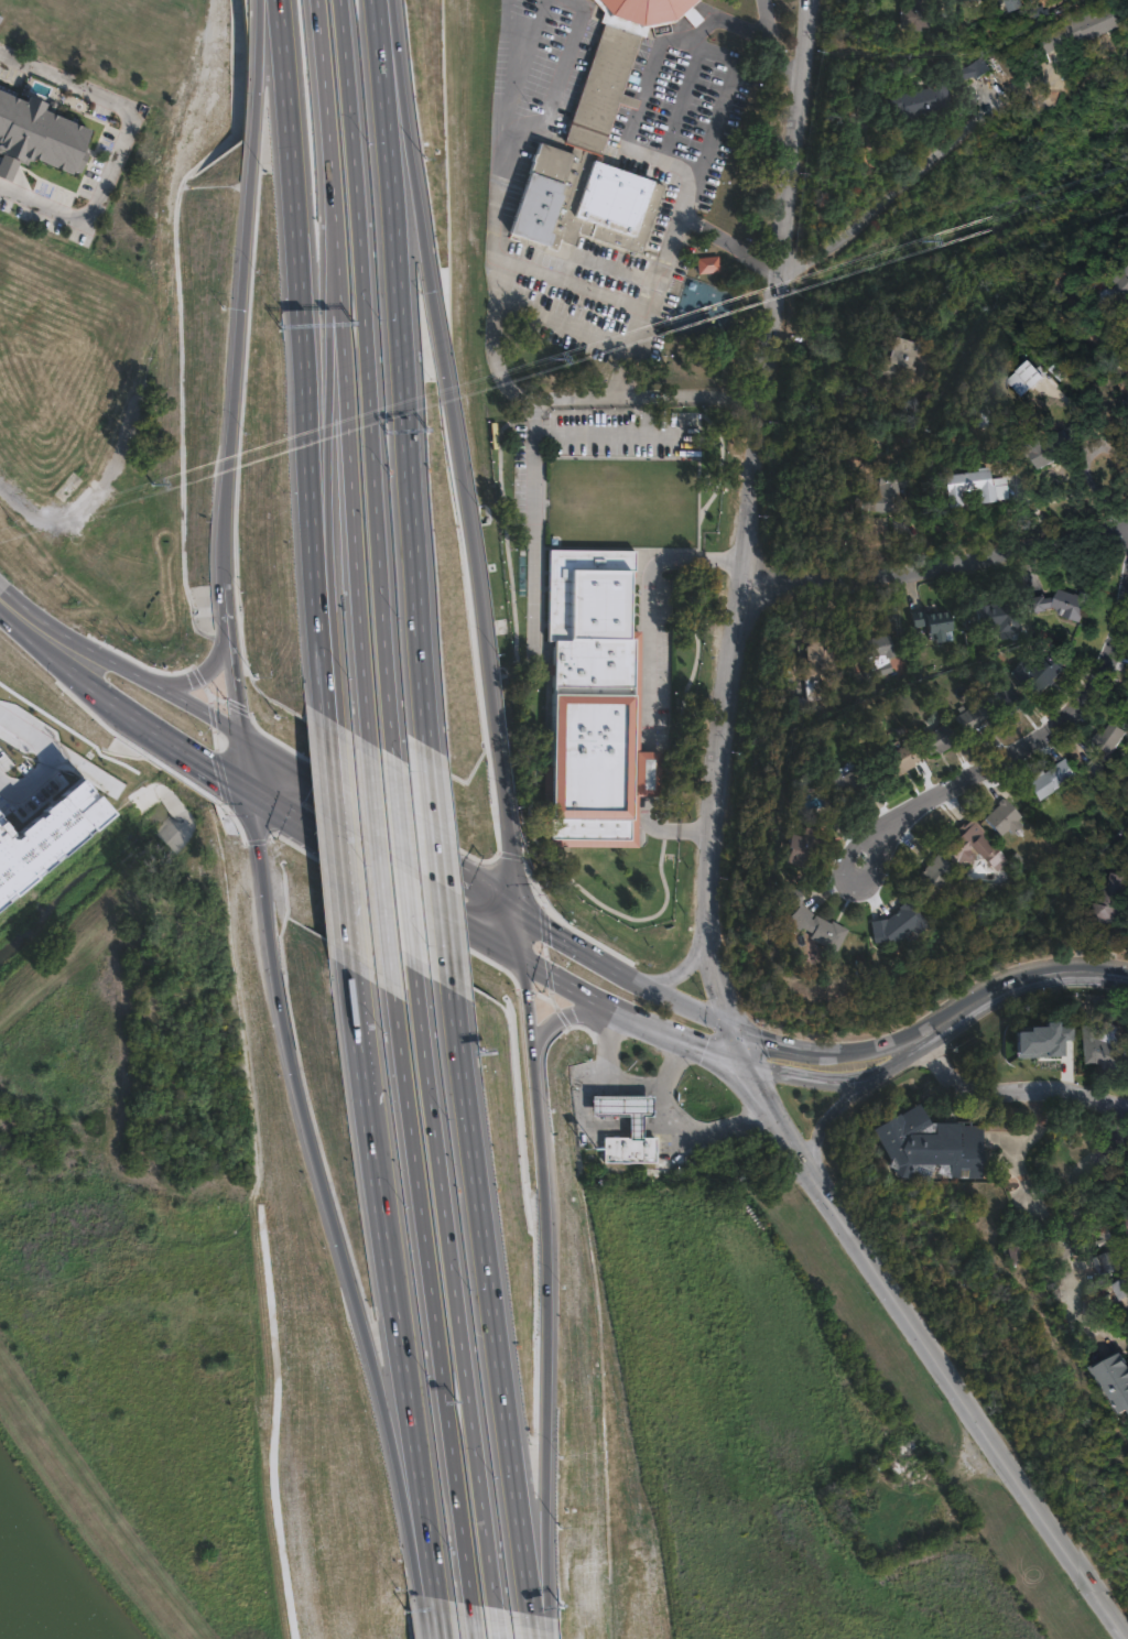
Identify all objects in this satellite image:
building: (1011, 4)
building: (909, 14)
building: (1082, 30)
road: (690, 40)
road: (770, 42)
building: (970, 66)
road: (381, 90)
building: (919, 96)
road: (326, 106)
road: (505, 130)
road: (120, 140)
building: (40, 144)
building: (600, 148)
road: (892, 191)
road: (246, 211)
power tower: (921, 237)
building: (707, 264)
building: (1127, 271)
building: (705, 274)
road: (576, 284)
road: (639, 316)
power tower: (551, 357)
road: (300, 358)
building: (902, 359)
road: (368, 376)
road: (501, 377)
building: (1041, 378)
building: (1126, 406)
building: (985, 415)
road: (595, 435)
road: (409, 443)
building: (1055, 444)
road: (448, 454)
road: (532, 460)
road: (329, 464)
road: (350, 475)
power tower: (153, 484)
building: (974, 487)
building: (885, 493)
road: (225, 500)
road: (746, 536)
road: (936, 560)
road: (228, 601)
building: (1065, 604)
road: (29, 617)
building: (1000, 617)
building: (933, 623)
building: (814, 653)
building: (876, 655)
road: (207, 672)
road: (647, 675)
road: (77, 679)
building: (1037, 684)
road: (154, 685)
building: (1004, 697)
building: (1127, 705)
building: (595, 706)
road: (241, 709)
building: (973, 717)
building: (816, 725)
road: (1021, 730)
building: (1113, 735)
building: (939, 739)
traffic signals: (246, 740)
road: (178, 751)
road: (67, 752)
building: (902, 759)
building: (1099, 767)
building: (847, 773)
building: (1053, 779)
traffic signals: (247, 795)
building: (1005, 818)
road: (378, 824)
building: (42, 836)
building: (803, 837)
road: (430, 842)
building: (974, 847)
road: (339, 853)
road: (402, 860)
road: (379, 866)
building: (934, 878)
road: (384, 880)
building: (790, 886)
building: (977, 889)
building: (1110, 901)
traffic signals: (512, 908)
building: (976, 913)
building: (899, 924)
building: (817, 927)
road: (686, 964)
traffic signals: (523, 965)
road: (523, 972)
road: (1013, 979)
road: (565, 987)
road: (552, 1010)
road: (704, 1012)
road: (679, 1038)
road: (359, 1043)
building: (1105, 1051)
road: (670, 1066)
road: (839, 1079)
road: (623, 1083)
road: (1013, 1087)
building: (623, 1108)
gas station: (623, 1108)
road: (829, 1115)
road: (739, 1118)
road: (1032, 1136)
building: (931, 1146)
building: (629, 1148)
road: (319, 1185)
building: (1127, 1225)
building: (1110, 1262)
road: (454, 1288)
building: (1122, 1289)
road: (432, 1296)
road: (484, 1307)
road: (398, 1333)
road: (544, 1337)
road: (932, 1355)
building: (1115, 1379)
building: (910, 1458)
building: (876, 1469)
road: (434, 1603)
road: (471, 1620)
road: (496, 1622)

